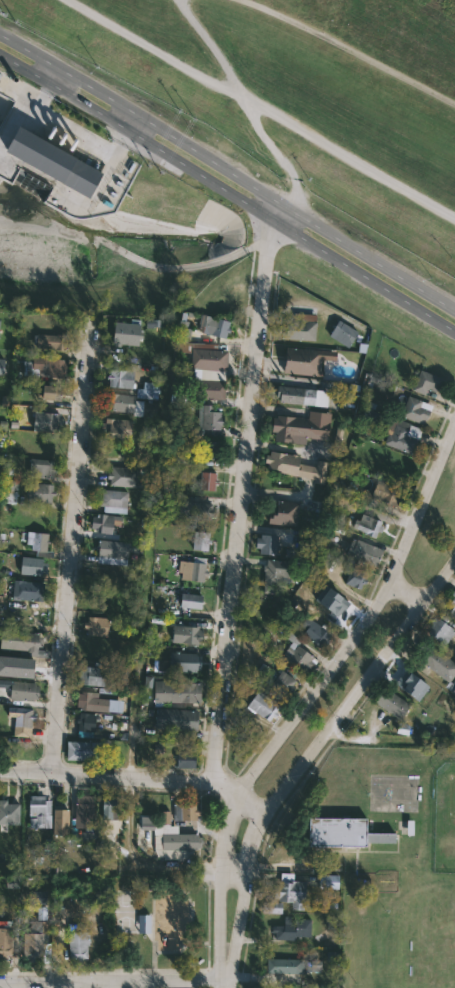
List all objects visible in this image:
road: (351, 57)
building: (0, 74)
road: (54, 76)
park: (298, 90)
road: (243, 102)
road: (262, 107)
road: (131, 121)
building: (52, 162)
road: (227, 172)
road: (228, 190)
building: (152, 322)
building: (212, 325)
building: (297, 329)
building: (120, 331)
building: (340, 333)
building: (48, 340)
building: (300, 360)
building: (0, 362)
building: (45, 365)
building: (204, 368)
building: (115, 377)
building: (424, 382)
building: (145, 390)
building: (47, 391)
building: (300, 395)
building: (117, 401)
building: (143, 408)
building: (414, 410)
building: (369, 416)
building: (206, 419)
building: (47, 421)
building: (115, 427)
building: (296, 428)
building: (401, 437)
building: (207, 452)
building: (295, 466)
building: (39, 469)
building: (123, 475)
building: (205, 480)
building: (10, 492)
building: (38, 492)
building: (386, 493)
road: (241, 494)
building: (111, 500)
building: (194, 509)
building: (281, 513)
building: (102, 521)
building: (365, 521)
building: (198, 540)
building: (35, 542)
road: (76, 545)
building: (266, 546)
building: (110, 551)
building: (363, 551)
building: (31, 565)
building: (191, 569)
building: (272, 571)
building: (354, 577)
road: (409, 588)
building: (25, 590)
building: (333, 600)
building: (190, 602)
building: (450, 603)
road: (364, 622)
building: (94, 625)
building: (438, 629)
building: (314, 631)
building: (186, 634)
building: (23, 642)
building: (296, 653)
building: (181, 661)
building: (434, 661)
building: (19, 666)
building: (101, 674)
building: (280, 683)
building: (411, 685)
building: (18, 689)
building: (173, 691)
building: (453, 691)
building: (97, 703)
building: (389, 703)
building: (260, 706)
building: (173, 719)
building: (19, 720)
building: (83, 724)
building: (83, 750)
road: (306, 757)
building: (184, 759)
road: (121, 778)
road: (251, 804)
building: (36, 811)
building: (8, 813)
building: (111, 814)
building: (83, 815)
building: (58, 819)
park: (443, 819)
building: (338, 832)
building: (172, 833)
park: (384, 858)
road: (274, 866)
building: (328, 881)
road: (221, 888)
building: (288, 893)
building: (33, 900)
building: (271, 907)
building: (142, 923)
building: (290, 928)
building: (32, 941)
building: (4, 942)
building: (76, 945)
road: (151, 962)
building: (279, 966)
road: (113, 981)
road: (226, 985)

